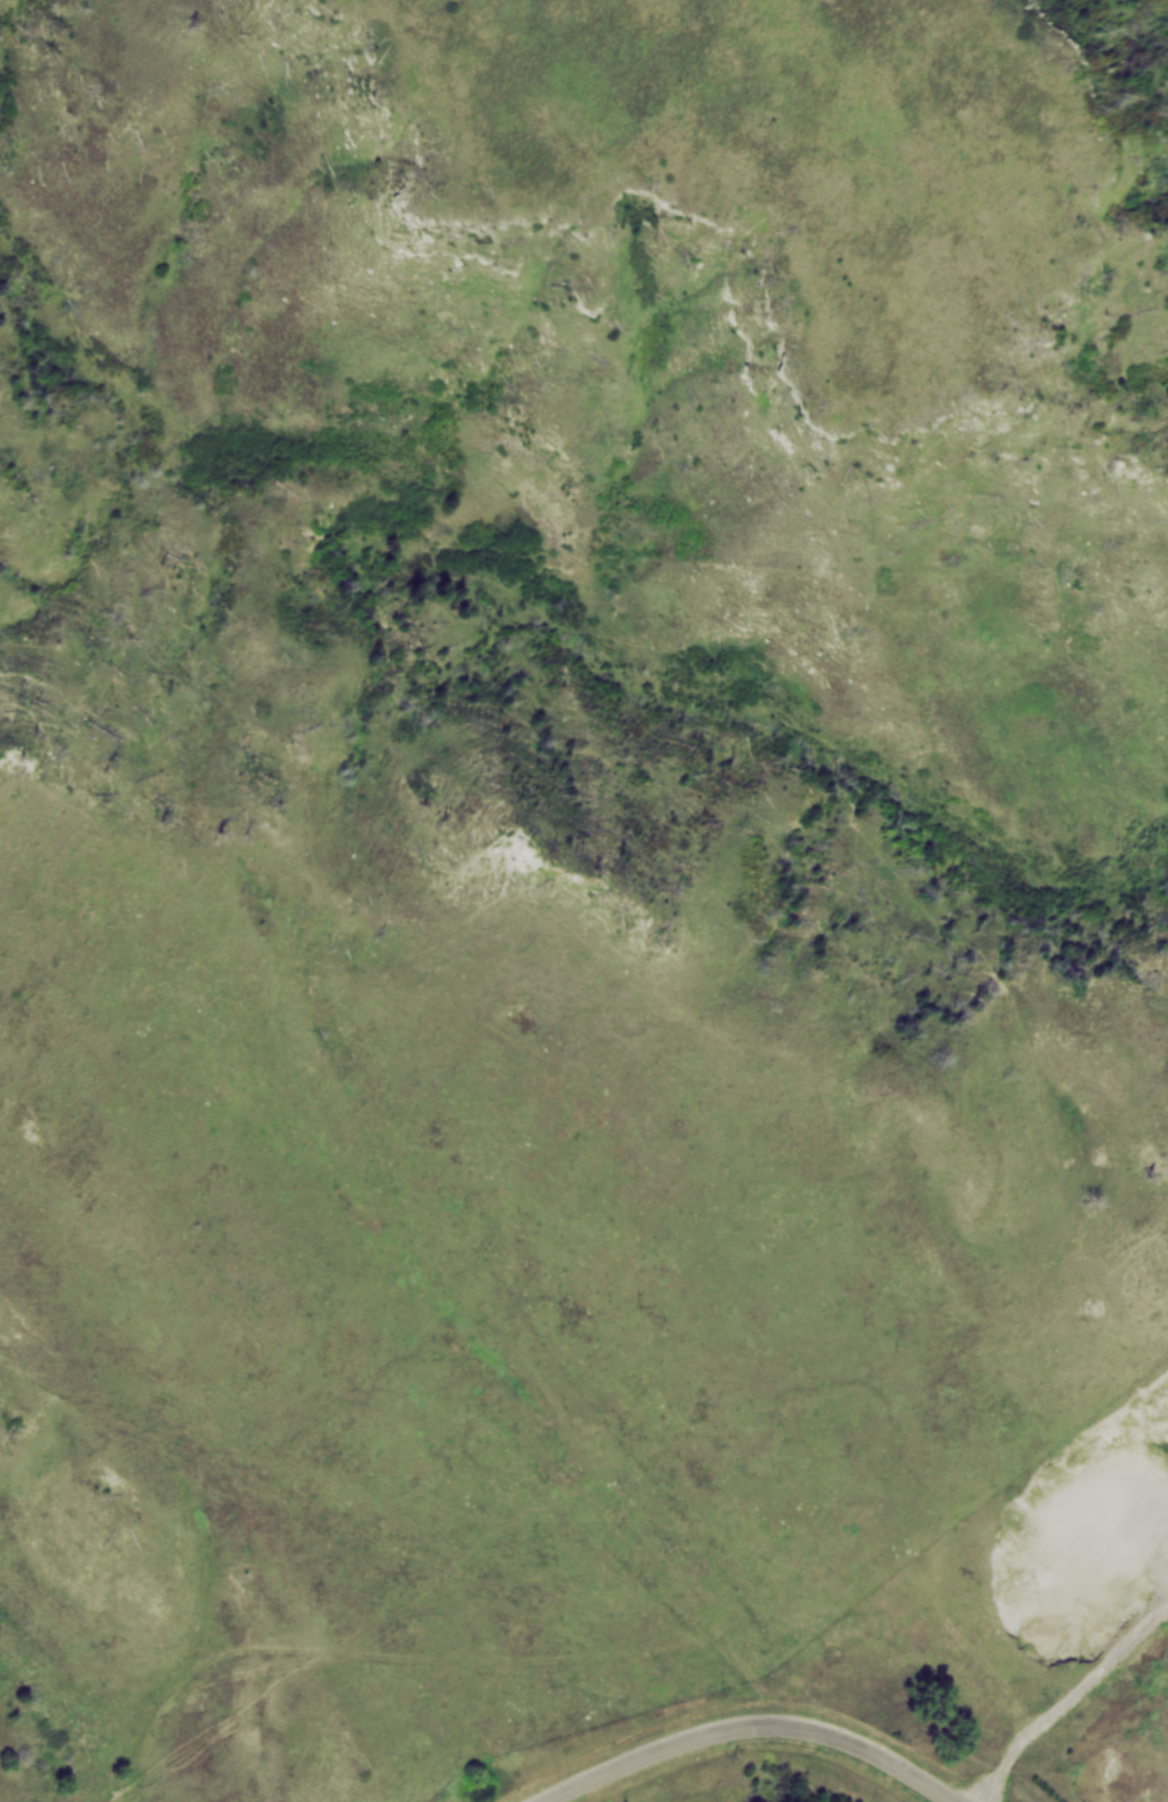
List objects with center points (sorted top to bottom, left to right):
road: (750, 1733)

